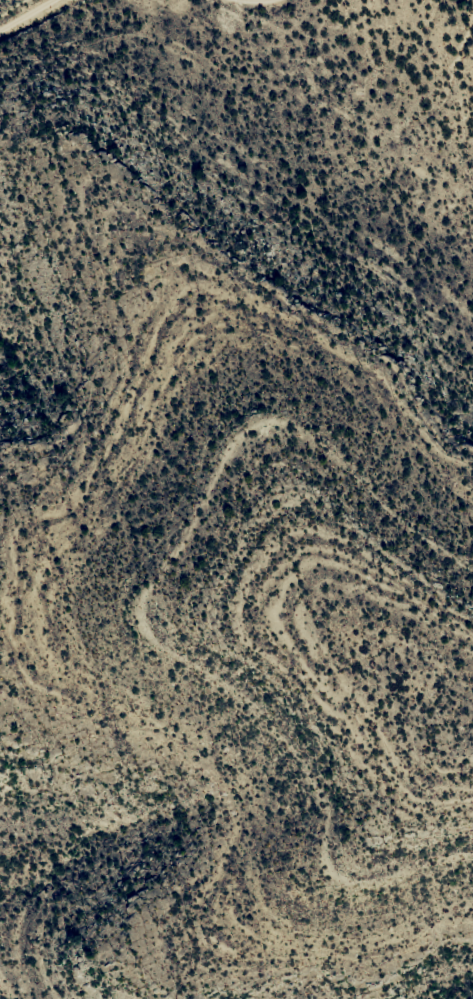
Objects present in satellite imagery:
road: (24, 14)

